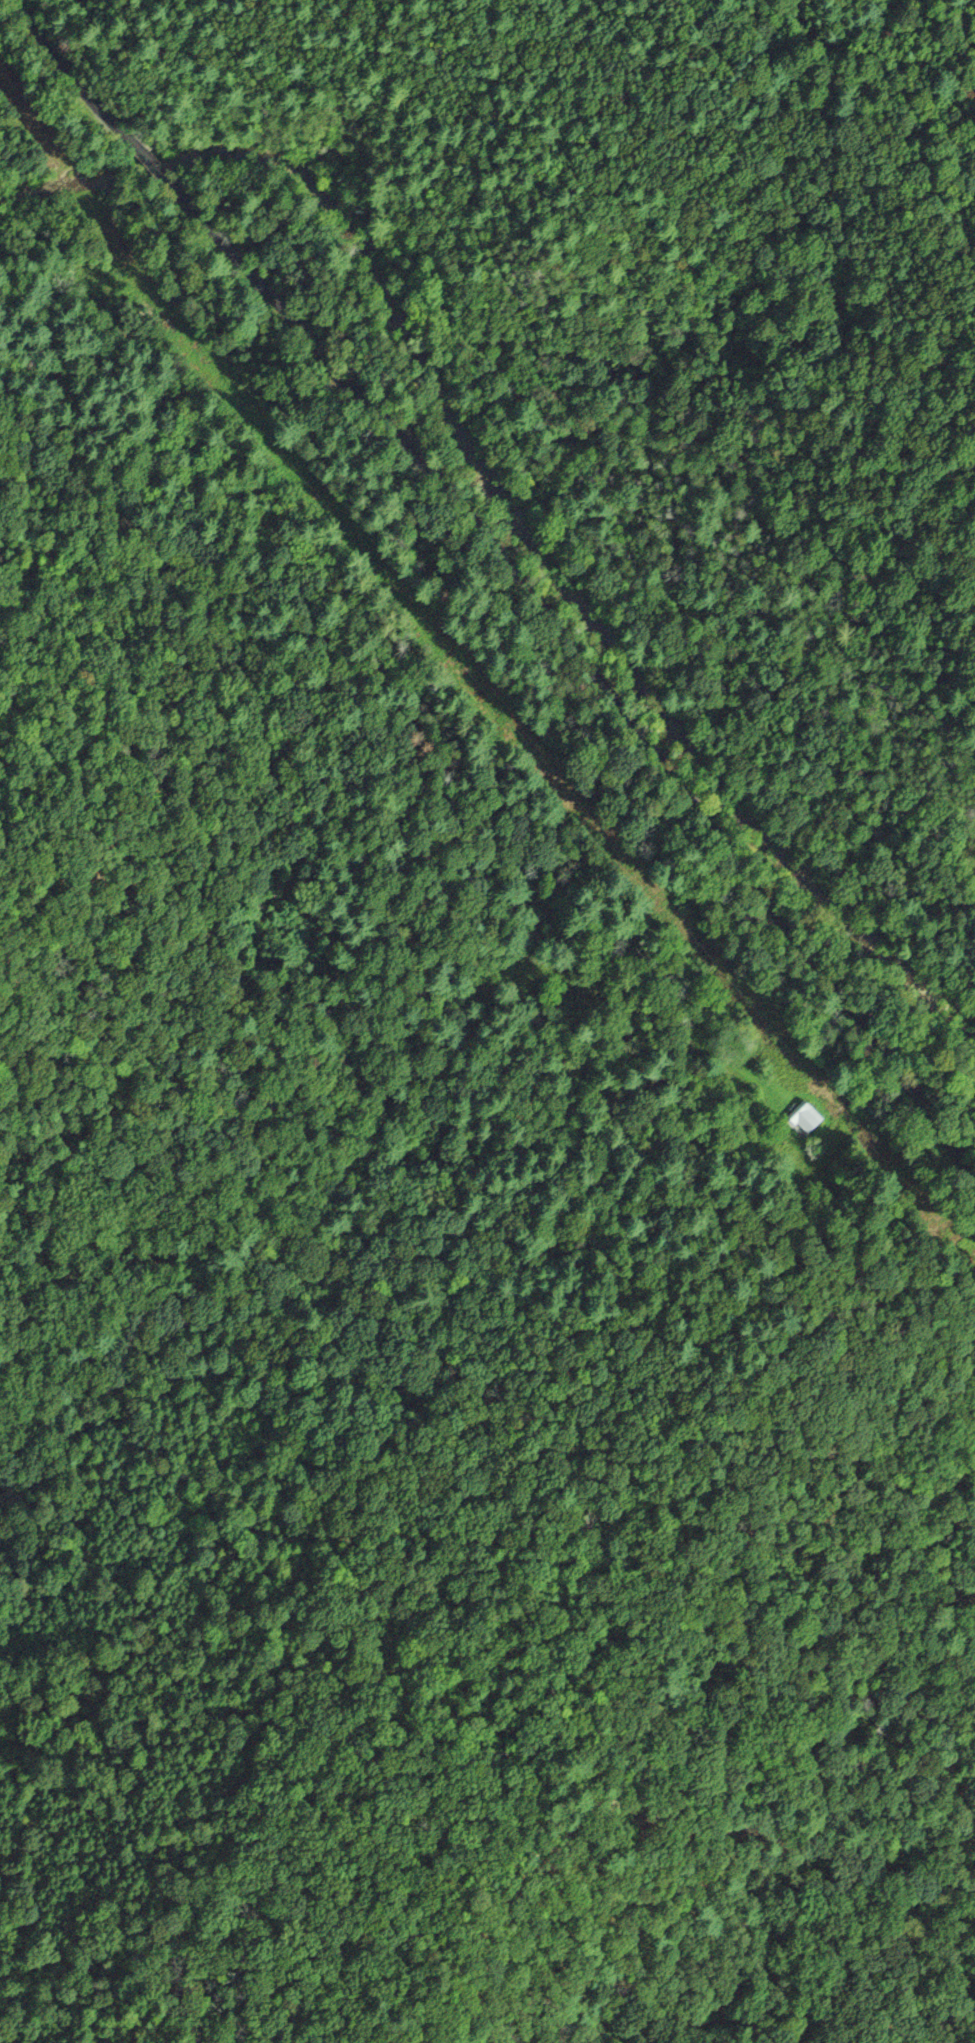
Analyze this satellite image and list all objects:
road: (79, 73)
road: (154, 163)
road: (306, 331)
road: (707, 819)
building: (805, 1117)
road: (693, 1650)

